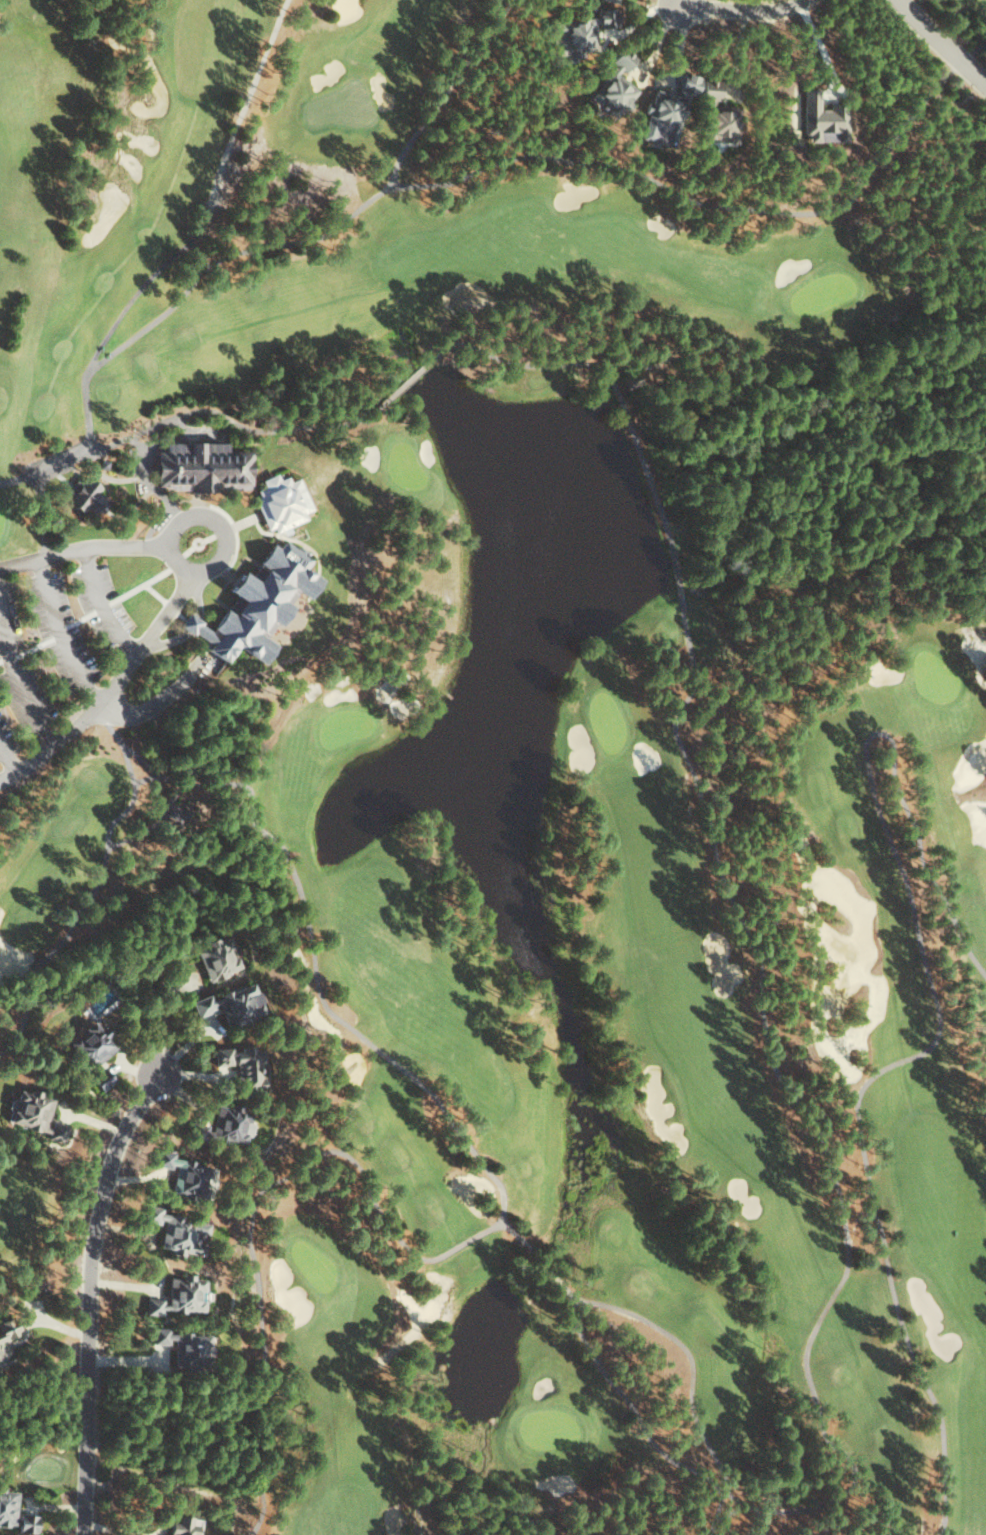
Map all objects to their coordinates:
building: (611, 1)
road: (740, 9)
building: (605, 16)
building: (573, 37)
road: (941, 46)
building: (687, 83)
building: (615, 84)
building: (663, 111)
building: (716, 113)
building: (823, 119)
park: (185, 165)
dam: (674, 454)
building: (201, 467)
building: (84, 495)
building: (279, 502)
dam: (690, 516)
road: (99, 551)
building: (256, 604)
building: (170, 814)
park: (596, 852)
building: (215, 958)
building: (230, 1004)
building: (89, 1043)
building: (242, 1065)
building: (101, 1078)
building: (35, 1114)
building: (225, 1124)
building: (181, 1172)
park: (19, 1209)
building: (176, 1229)
building: (179, 1296)
road: (89, 1298)
building: (6, 1335)
building: (182, 1345)
building: (6, 1507)
building: (25, 1522)
building: (181, 1526)

